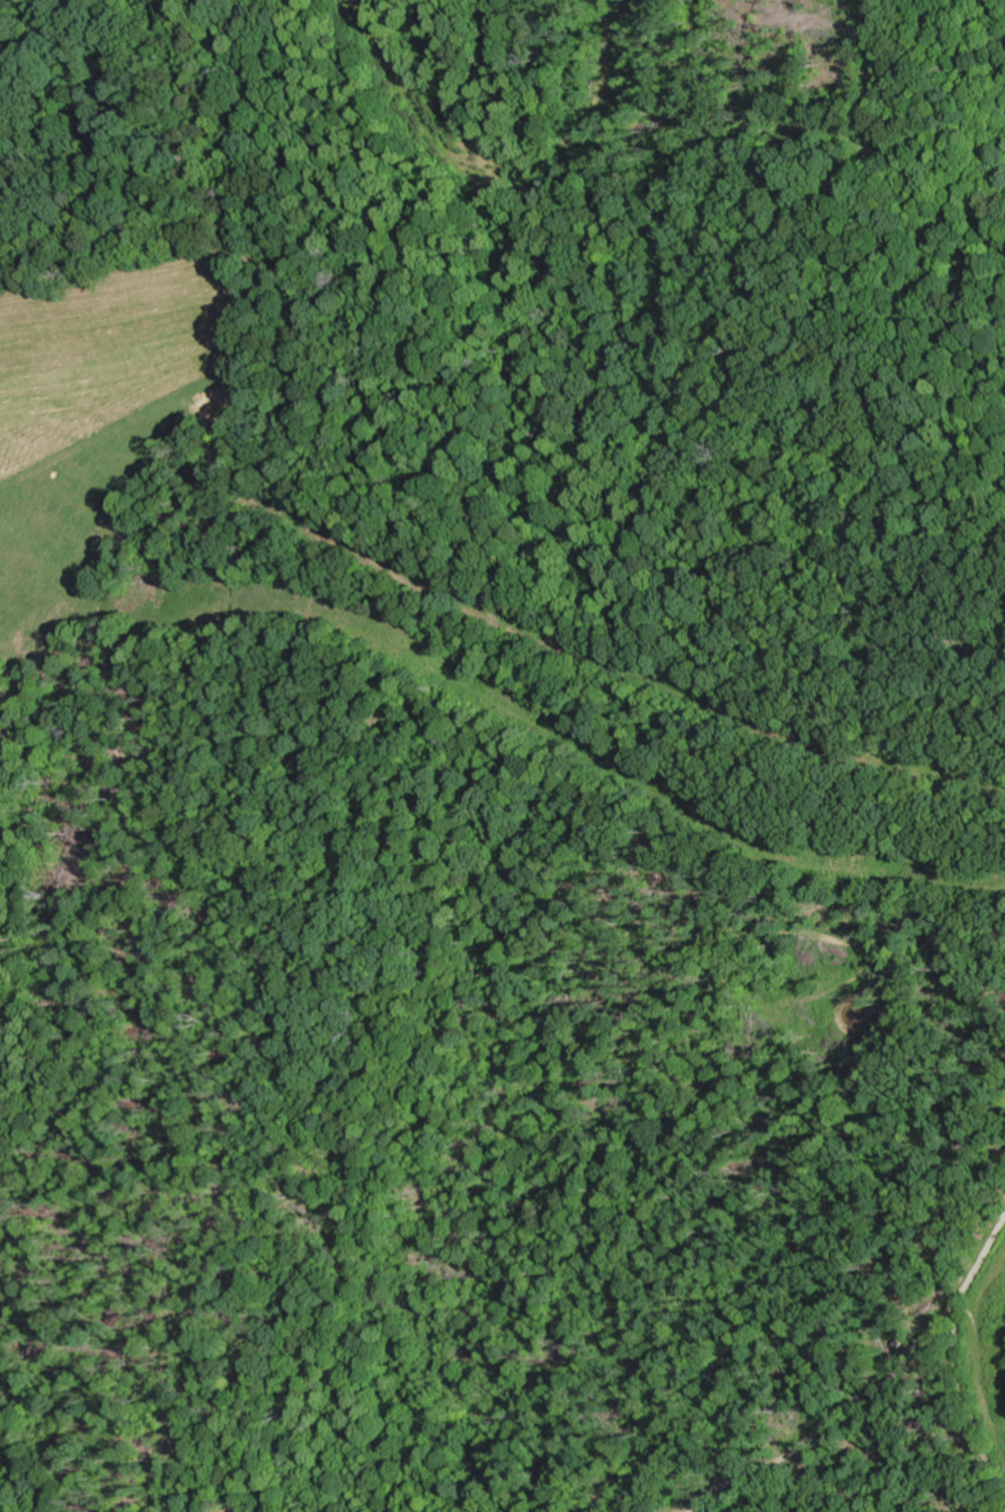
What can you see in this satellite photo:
road: (837, 1459)

